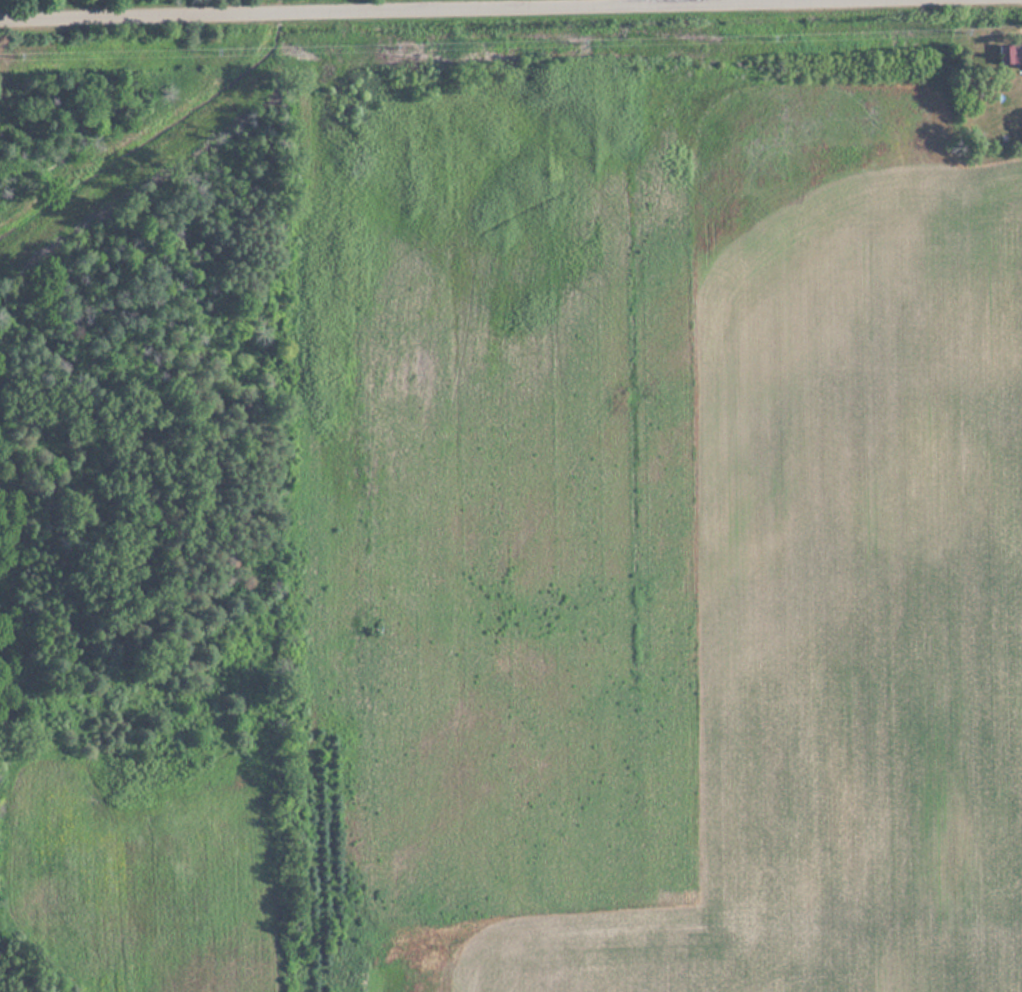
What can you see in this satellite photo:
road: (510, 11)
building: (1008, 54)

